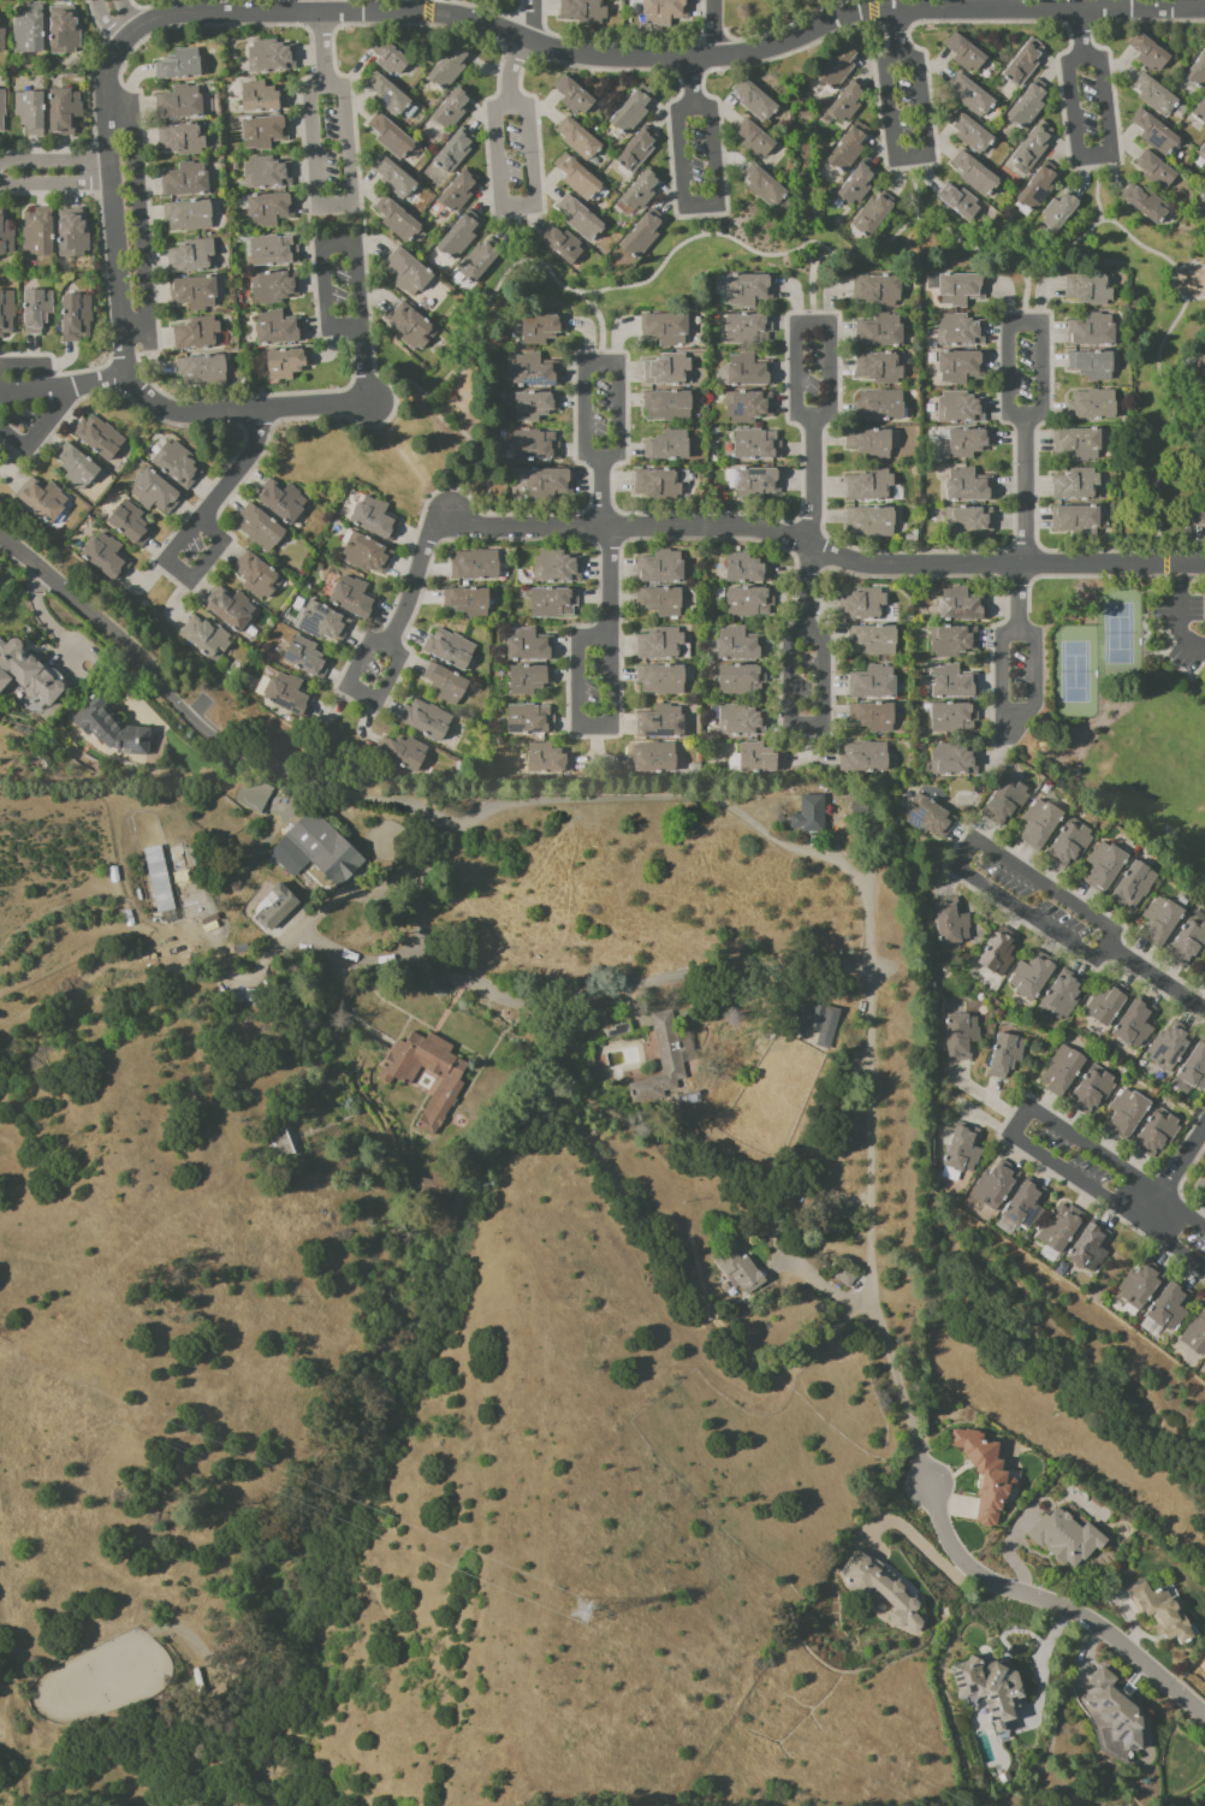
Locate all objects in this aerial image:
road: (298, 5)
road: (321, 5)
road: (1199, 5)
road: (487, 8)
road: (983, 10)
road: (425, 11)
building: (586, 11)
road: (871, 11)
road: (1201, 11)
road: (426, 12)
building: (666, 12)
road: (856, 17)
road: (1183, 19)
road: (533, 22)
road: (784, 26)
road: (717, 28)
building: (31, 30)
building: (66, 31)
road: (120, 32)
building: (2, 40)
road: (624, 43)
building: (967, 54)
building: (1151, 54)
building: (273, 57)
building: (391, 58)
building: (1026, 64)
building: (182, 66)
building: (451, 67)
building: (841, 67)
road: (713, 69)
building: (1198, 75)
building: (390, 95)
building: (575, 96)
building: (973, 96)
building: (1156, 96)
building: (263, 99)
building: (756, 101)
building: (182, 103)
building: (848, 103)
road: (117, 106)
building: (1029, 106)
building: (453, 109)
building: (2, 111)
building: (32, 112)
building: (634, 112)
building: (66, 113)
building: (1200, 113)
building: (267, 132)
building: (972, 134)
building: (1157, 134)
building: (393, 137)
building: (184, 140)
building: (581, 140)
building: (756, 140)
building: (1035, 147)
building: (850, 148)
building: (639, 150)
building: (456, 152)
road: (1076, 152)
building: (1203, 153)
road: (894, 155)
building: (1157, 171)
road: (120, 173)
building: (269, 174)
building: (978, 174)
building: (396, 178)
building: (580, 178)
building: (188, 180)
building: (857, 185)
building: (766, 186)
road: (348, 188)
building: (1039, 189)
building: (643, 191)
building: (461, 193)
road: (913, 193)
road: (1097, 195)
road: (500, 196)
building: (1203, 201)
road: (683, 202)
building: (961, 203)
building: (1147, 205)
building: (273, 209)
building: (1059, 213)
building: (875, 215)
building: (191, 217)
building: (582, 219)
building: (399, 220)
road: (704, 224)
building: (645, 236)
building: (6, 237)
building: (462, 237)
building: (41, 238)
building: (73, 239)
road: (521, 239)
building: (564, 245)
building: (273, 250)
road: (354, 250)
road: (776, 253)
building: (194, 257)
building: (481, 261)
building: (410, 273)
road: (1174, 282)
road: (813, 285)
building: (277, 288)
building: (963, 290)
building: (1092, 290)
building: (750, 291)
building: (879, 291)
building: (196, 292)
road: (1027, 295)
building: (38, 312)
building: (7, 313)
building: (78, 319)
building: (414, 327)
road: (602, 327)
building: (280, 328)
building: (544, 328)
building: (666, 328)
building: (750, 330)
building: (962, 331)
building: (880, 332)
building: (1093, 332)
building: (202, 334)
building: (290, 363)
building: (1093, 366)
building: (962, 367)
building: (1201, 367)
building: (882, 368)
road: (829, 369)
building: (752, 371)
building: (204, 372)
building: (538, 372)
building: (670, 372)
road: (1041, 381)
road: (619, 383)
road: (69, 389)
road: (1163, 391)
road: (48, 398)
building: (1093, 405)
building: (538, 407)
building: (670, 407)
building: (749, 407)
building: (882, 407)
building: (962, 409)
road: (250, 418)
road: (462, 432)
building: (101, 438)
building: (970, 443)
building: (872, 444)
building: (1080, 444)
building: (538, 446)
building: (759, 446)
building: (670, 448)
building: (179, 466)
building: (79, 468)
building: (759, 484)
building: (661, 485)
building: (551, 486)
building: (1079, 486)
building: (873, 487)
building: (970, 487)
building: (158, 493)
building: (44, 501)
building: (284, 502)
road: (1146, 504)
building: (1198, 517)
building: (378, 520)
building: (873, 522)
building: (1079, 522)
building: (972, 523)
building: (132, 525)
building: (262, 529)
road: (182, 540)
road: (819, 551)
building: (369, 555)
building: (108, 558)
building: (477, 566)
building: (558, 568)
building: (748, 568)
building: (663, 569)
building: (259, 578)
road: (1017, 599)
building: (357, 600)
building: (664, 602)
building: (470, 603)
building: (752, 603)
building: (556, 604)
building: (871, 604)
building: (963, 606)
building: (232, 609)
road: (1177, 616)
building: (326, 623)
park: (1117, 636)
building: (208, 639)
building: (879, 639)
building: (956, 643)
building: (663, 645)
building: (742, 645)
building: (532, 647)
building: (452, 650)
road: (398, 653)
building: (308, 658)
road: (148, 670)
building: (28, 674)
park: (1073, 674)
road: (1001, 676)
road: (1032, 676)
building: (532, 680)
building: (743, 680)
building: (664, 681)
building: (956, 682)
building: (874, 683)
building: (449, 685)
building: (291, 697)
road: (819, 703)
road: (611, 711)
building: (875, 717)
building: (956, 718)
building: (428, 721)
building: (532, 721)
building: (744, 722)
building: (663, 723)
building: (113, 729)
building: (406, 753)
building: (866, 758)
building: (654, 759)
building: (761, 759)
building: (550, 760)
building: (955, 762)
building: (257, 794)
building: (1008, 803)
road: (500, 807)
building: (862, 810)
building: (812, 816)
building: (931, 818)
building: (1043, 825)
building: (1072, 845)
road: (948, 851)
road: (962, 851)
building: (319, 852)
building: (1105, 868)
building: (165, 881)
building: (1135, 887)
building: (281, 907)
building: (952, 923)
building: (1162, 923)
building: (1189, 942)
building: (1001, 954)
building: (1204, 958)
building: (1034, 976)
building: (1203, 976)
road: (1156, 981)
road: (612, 991)
building: (1064, 996)
building: (1109, 1006)
building: (801, 1018)
building: (1138, 1024)
building: (824, 1025)
building: (622, 1032)
building: (963, 1037)
building: (1171, 1048)
building: (1008, 1055)
building: (665, 1062)
building: (1195, 1070)
building: (1064, 1072)
building: (453, 1085)
road: (872, 1091)
building: (1093, 1091)
road: (981, 1095)
building: (691, 1100)
building: (1129, 1113)
road: (1004, 1119)
road: (1019, 1119)
road: (984, 1120)
building: (1158, 1135)
building: (284, 1145)
building: (966, 1149)
road: (1177, 1168)
road: (1179, 1182)
building: (433, 1186)
building: (997, 1186)
building: (1203, 1186)
building: (1028, 1206)
road: (1156, 1221)
building: (1062, 1228)
building: (1092, 1248)
building: (743, 1273)
building: (847, 1278)
building: (1142, 1286)
road: (821, 1287)
building: (1171, 1307)
building: (1197, 1337)
building: (987, 1475)
road: (957, 1506)
road: (913, 1538)
building: (1068, 1539)
road: (1007, 1549)
building: (885, 1591)
road: (1046, 1601)
power tower: (580, 1610)
building: (1163, 1612)
road: (1129, 1622)
road: (1088, 1651)
building: (989, 1686)
building: (1116, 1711)

